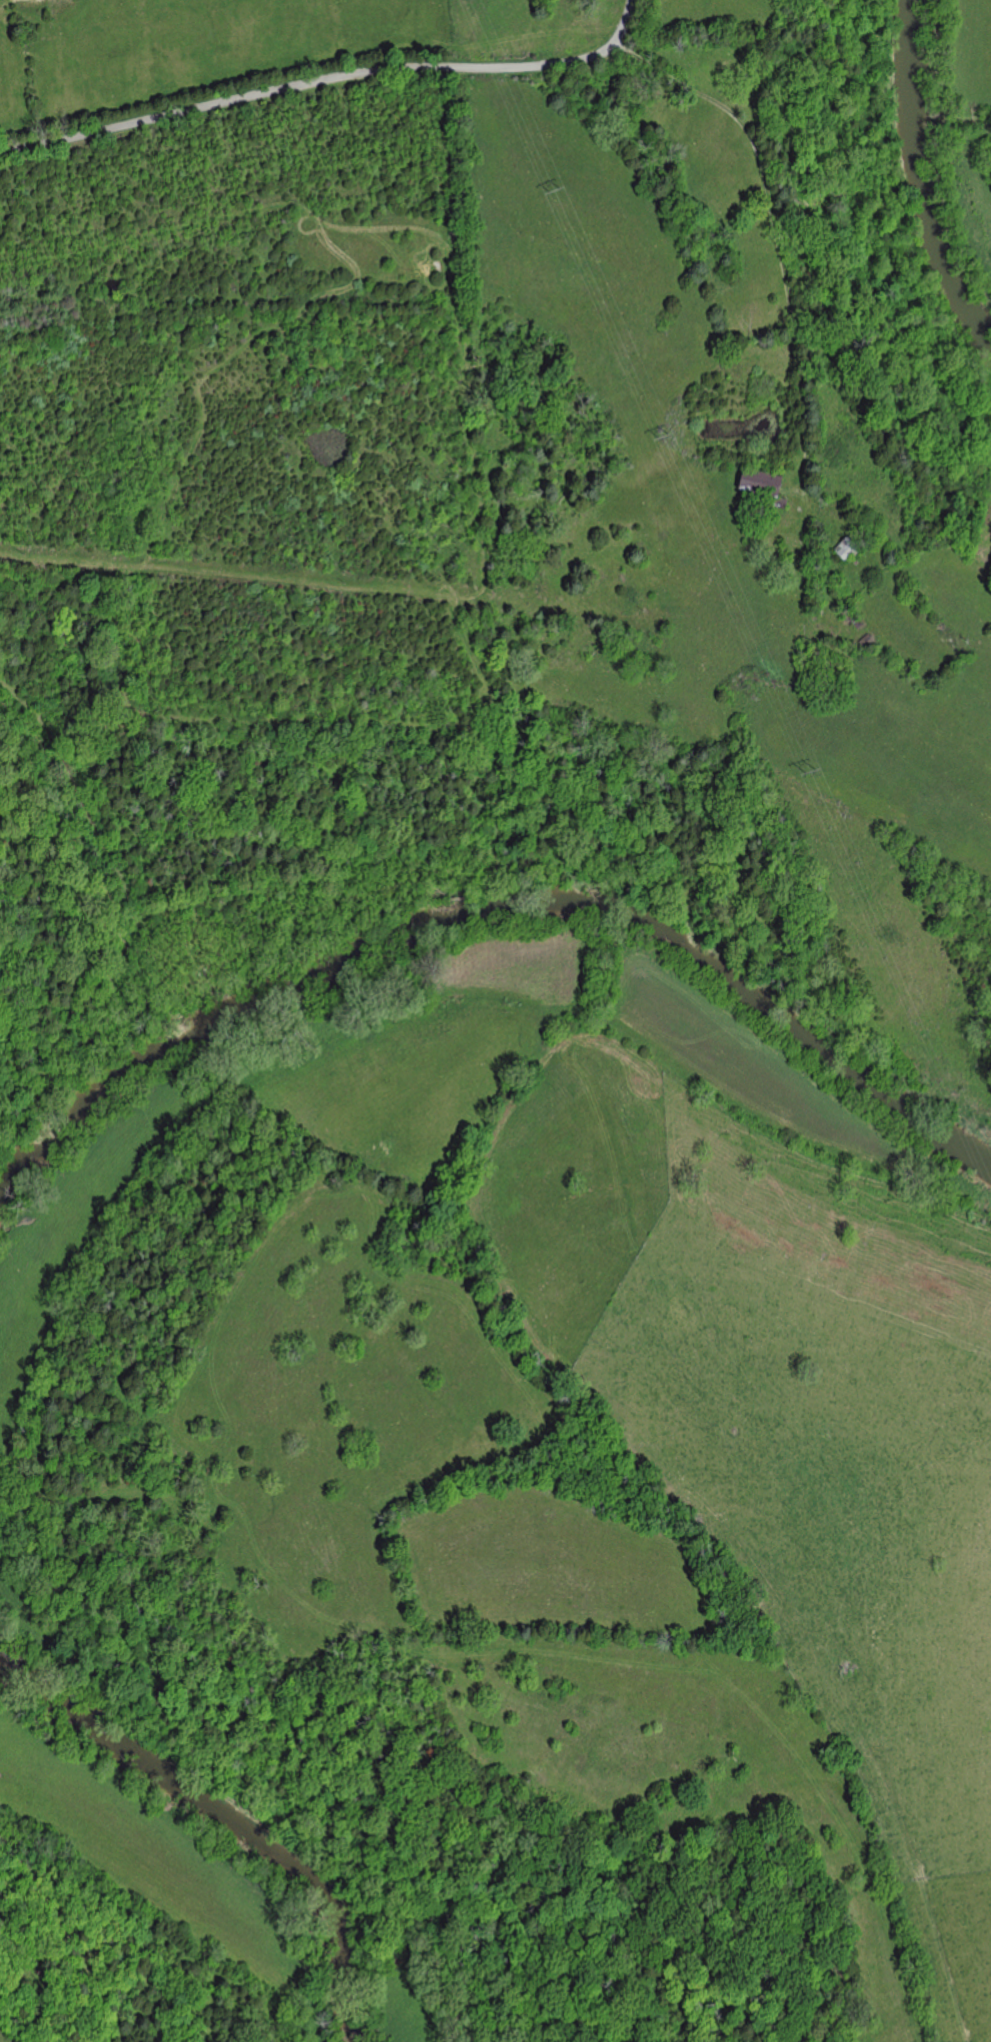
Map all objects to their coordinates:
road: (329, 81)
power tower: (556, 188)
road: (804, 289)
power tower: (667, 434)
building: (765, 483)
power tower: (809, 769)

